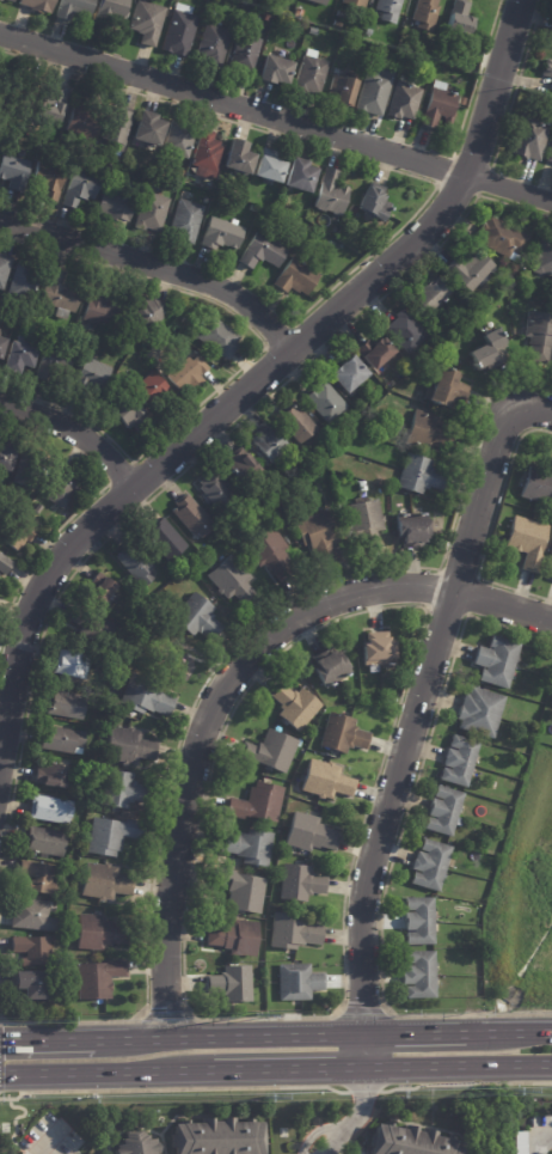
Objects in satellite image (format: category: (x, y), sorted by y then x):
building: (231, 0)
building: (7, 1)
building: (317, 2)
building: (354, 4)
building: (36, 6)
building: (182, 8)
building: (73, 10)
building: (386, 11)
building: (111, 13)
building: (299, 13)
building: (424, 14)
building: (341, 16)
building: (266, 18)
building: (146, 23)
building: (456, 23)
building: (337, 25)
building: (368, 32)
building: (179, 35)
building: (344, 43)
building: (213, 44)
building: (551, 45)
building: (376, 53)
building: (244, 54)
building: (547, 69)
building: (271, 72)
building: (309, 75)
building: (551, 88)
building: (374, 90)
building: (337, 92)
building: (461, 102)
building: (401, 103)
building: (59, 106)
building: (438, 108)
building: (84, 116)
road: (276, 117)
building: (119, 128)
building: (167, 134)
building: (529, 138)
building: (54, 147)
building: (1, 152)
building: (24, 153)
building: (548, 153)
building: (209, 155)
building: (243, 158)
building: (0, 163)
building: (274, 167)
building: (16, 172)
building: (184, 173)
building: (305, 177)
building: (49, 179)
building: (84, 188)
building: (333, 194)
building: (378, 203)
building: (116, 207)
building: (253, 208)
building: (354, 210)
building: (153, 212)
building: (513, 216)
building: (188, 220)
building: (225, 233)
building: (501, 239)
building: (0, 252)
building: (265, 252)
building: (542, 260)
road: (155, 264)
building: (5, 270)
building: (467, 271)
building: (299, 277)
building: (26, 282)
building: (62, 294)
building: (430, 294)
building: (105, 312)
building: (153, 316)
building: (404, 331)
building: (539, 336)
building: (220, 338)
building: (5, 346)
building: (373, 350)
building: (487, 350)
building: (25, 355)
building: (56, 362)
building: (94, 372)
building: (191, 373)
building: (345, 374)
road: (258, 375)
building: (157, 387)
building: (444, 390)
building: (324, 401)
building: (129, 415)
building: (294, 423)
road: (74, 432)
building: (428, 432)
building: (268, 444)
building: (8, 458)
building: (239, 463)
building: (30, 474)
building: (418, 475)
building: (361, 486)
building: (538, 487)
building: (66, 489)
building: (215, 491)
building: (42, 508)
building: (191, 517)
building: (363, 525)
building: (411, 530)
building: (20, 535)
building: (318, 535)
building: (165, 539)
building: (527, 542)
building: (270, 551)
building: (551, 551)
building: (134, 564)
building: (6, 568)
building: (228, 579)
building: (551, 579)
building: (99, 586)
building: (196, 617)
building: (88, 622)
building: (378, 653)
building: (496, 661)
building: (68, 664)
building: (330, 668)
road: (226, 683)
road: (422, 691)
building: (146, 700)
building: (551, 703)
building: (66, 706)
building: (294, 707)
building: (479, 713)
building: (342, 735)
building: (61, 740)
building: (128, 747)
building: (270, 752)
building: (459, 761)
building: (48, 776)
building: (326, 782)
building: (122, 792)
building: (256, 804)
building: (49, 810)
building: (442, 812)
building: (309, 835)
building: (111, 836)
building: (42, 843)
building: (247, 848)
building: (429, 866)
building: (37, 879)
building: (103, 884)
building: (300, 884)
building: (240, 891)
building: (31, 916)
building: (417, 922)
building: (294, 933)
building: (97, 934)
building: (234, 938)
building: (30, 951)
building: (60, 961)
building: (418, 976)
building: (98, 979)
building: (299, 982)
building: (229, 984)
building: (30, 985)
power tower: (254, 1013)
road: (507, 1031)
road: (411, 1032)
road: (225, 1034)
road: (44, 1037)
road: (360, 1051)
road: (455, 1068)
road: (284, 1069)
road: (105, 1070)
power tower: (509, 1089)
power tower: (264, 1095)
road: (352, 1117)
building: (216, 1136)
building: (409, 1142)
building: (519, 1142)
building: (136, 1144)
road: (541, 1144)
road: (326, 1150)

